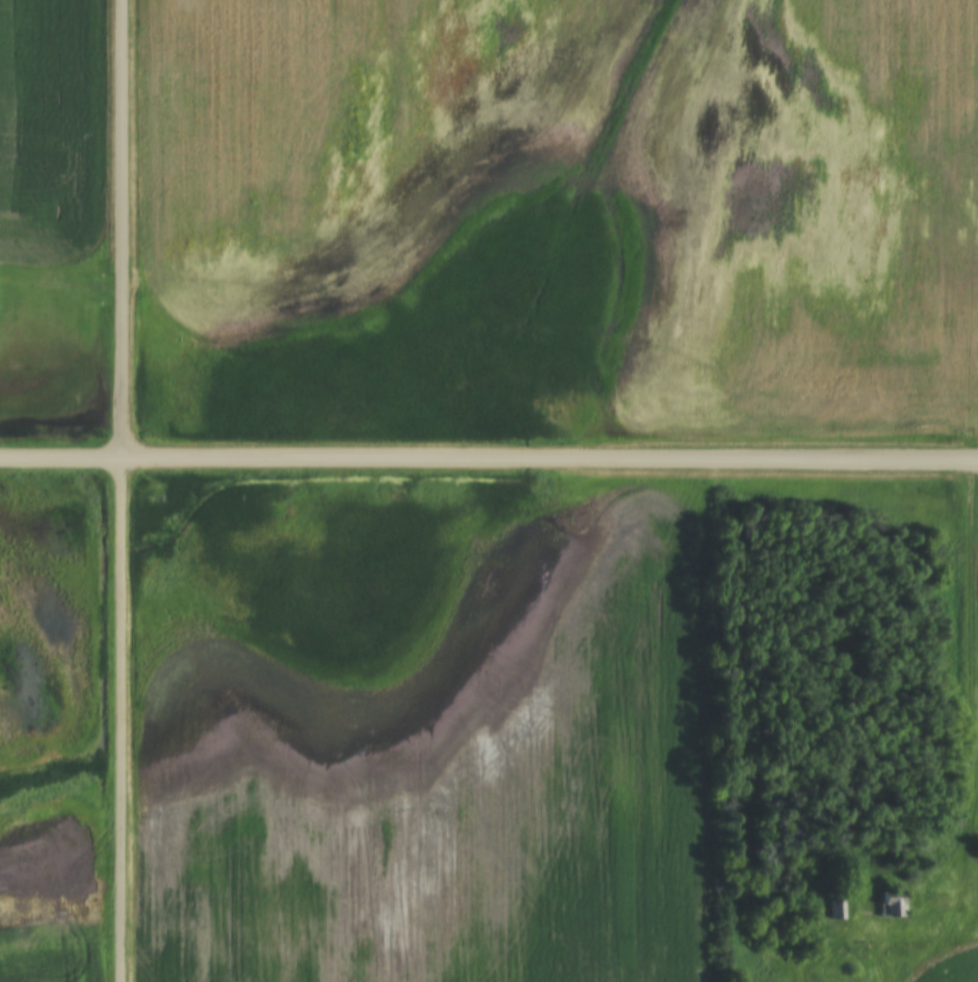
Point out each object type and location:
road: (120, 228)
road: (488, 461)
road: (973, 667)
road: (120, 720)
building: (973, 852)
building: (884, 904)
building: (831, 910)

